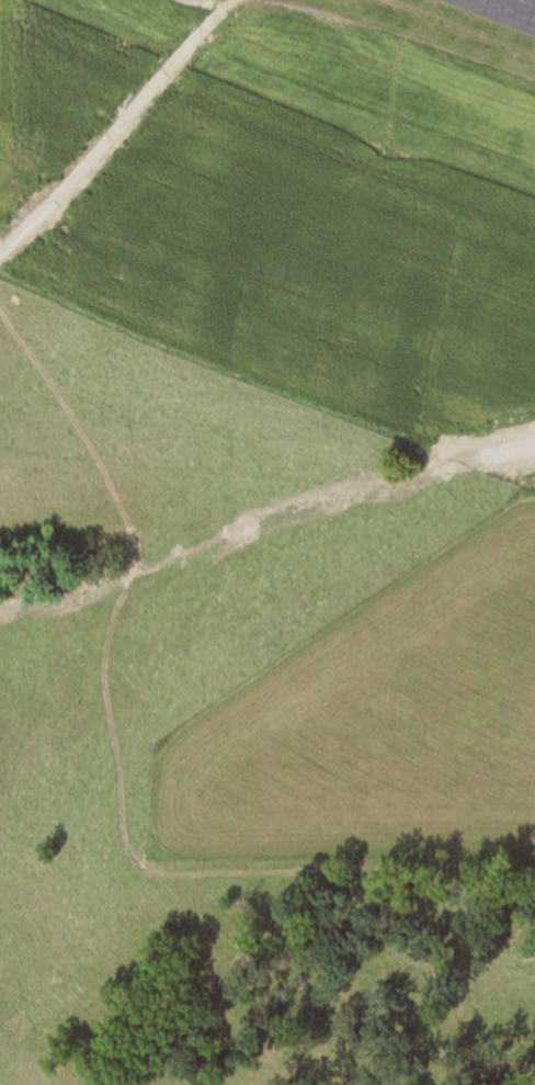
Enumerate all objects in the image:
airport runway: (524, 3)
airport: (289, 205)

